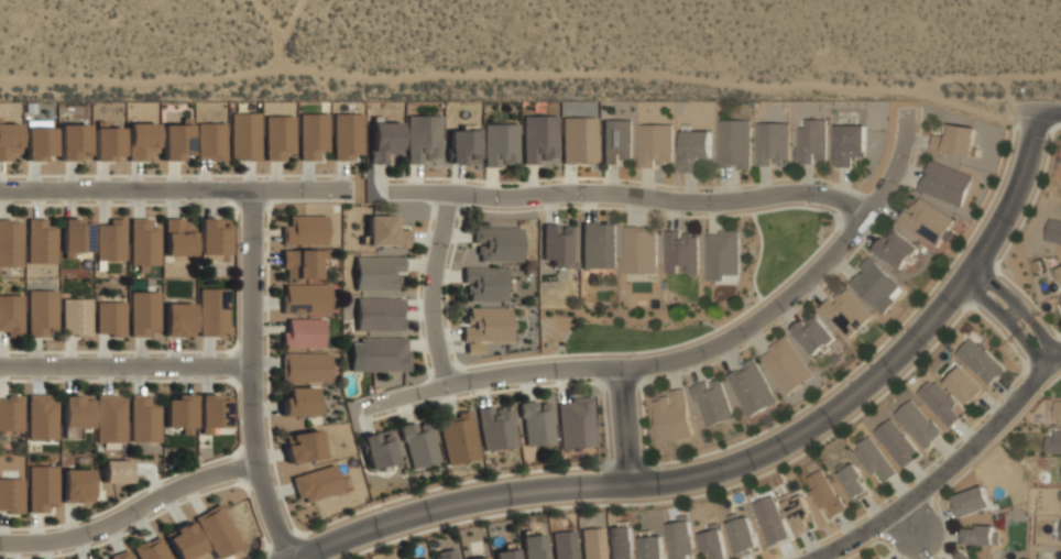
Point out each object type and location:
road: (1049, 111)
building: (313, 134)
building: (244, 135)
building: (347, 135)
building: (278, 136)
building: (423, 138)
building: (538, 138)
building: (39, 139)
building: (579, 139)
building: (9, 140)
building: (176, 140)
building: (384, 140)
building: (616, 140)
building: (141, 141)
building: (210, 141)
building: (811, 141)
building: (73, 142)
building: (772, 142)
building: (107, 143)
building: (733, 143)
building: (849, 143)
building: (501, 144)
building: (655, 144)
building: (463, 146)
building: (693, 150)
building: (944, 183)
road: (174, 189)
road: (632, 196)
building: (925, 221)
building: (305, 229)
building: (385, 231)
building: (1053, 231)
building: (75, 237)
building: (178, 238)
building: (212, 239)
building: (110, 240)
building: (41, 241)
building: (11, 242)
building: (143, 242)
building: (497, 243)
building: (557, 244)
building: (598, 244)
building: (896, 249)
building: (639, 250)
building: (680, 252)
building: (722, 254)
building: (302, 263)
building: (1059, 271)
building: (378, 272)
building: (485, 284)
building: (876, 285)
road: (433, 289)
building: (1060, 297)
building: (305, 298)
road: (1021, 308)
building: (41, 311)
building: (212, 311)
building: (845, 311)
building: (143, 313)
building: (379, 314)
building: (11, 315)
building: (76, 316)
building: (110, 318)
building: (178, 319)
road: (1008, 321)
building: (485, 327)
building: (303, 333)
building: (813, 333)
building: (379, 353)
road: (693, 357)
building: (978, 361)
road: (125, 365)
building: (785, 365)
building: (305, 366)
road: (252, 376)
building: (963, 385)
building: (751, 387)
building: (300, 402)
building: (712, 402)
building: (940, 403)
building: (211, 412)
building: (11, 413)
building: (179, 413)
building: (75, 415)
building: (41, 416)
building: (672, 416)
building: (110, 418)
building: (143, 418)
building: (536, 423)
building: (575, 423)
building: (917, 423)
building: (496, 427)
road: (625, 427)
building: (458, 438)
building: (1052, 441)
building: (895, 442)
building: (419, 443)
building: (304, 447)
building: (379, 449)
building: (873, 459)
road: (750, 460)
road: (947, 470)
building: (117, 471)
building: (852, 481)
building: (316, 483)
building: (76, 484)
building: (41, 487)
building: (824, 493)
building: (11, 494)
building: (971, 501)
road: (131, 513)
building: (798, 513)
building: (769, 520)
building: (217, 531)
building: (742, 535)
building: (980, 535)
building: (680, 539)
building: (712, 541)
building: (185, 542)
building: (592, 542)
building: (621, 542)
building: (565, 545)
building: (533, 546)
building: (650, 547)
building: (151, 549)
building: (446, 553)
building: (505, 553)
building: (120, 555)
building: (960, 556)
building: (423, 558)
building: (479, 558)
building: (877, 558)

